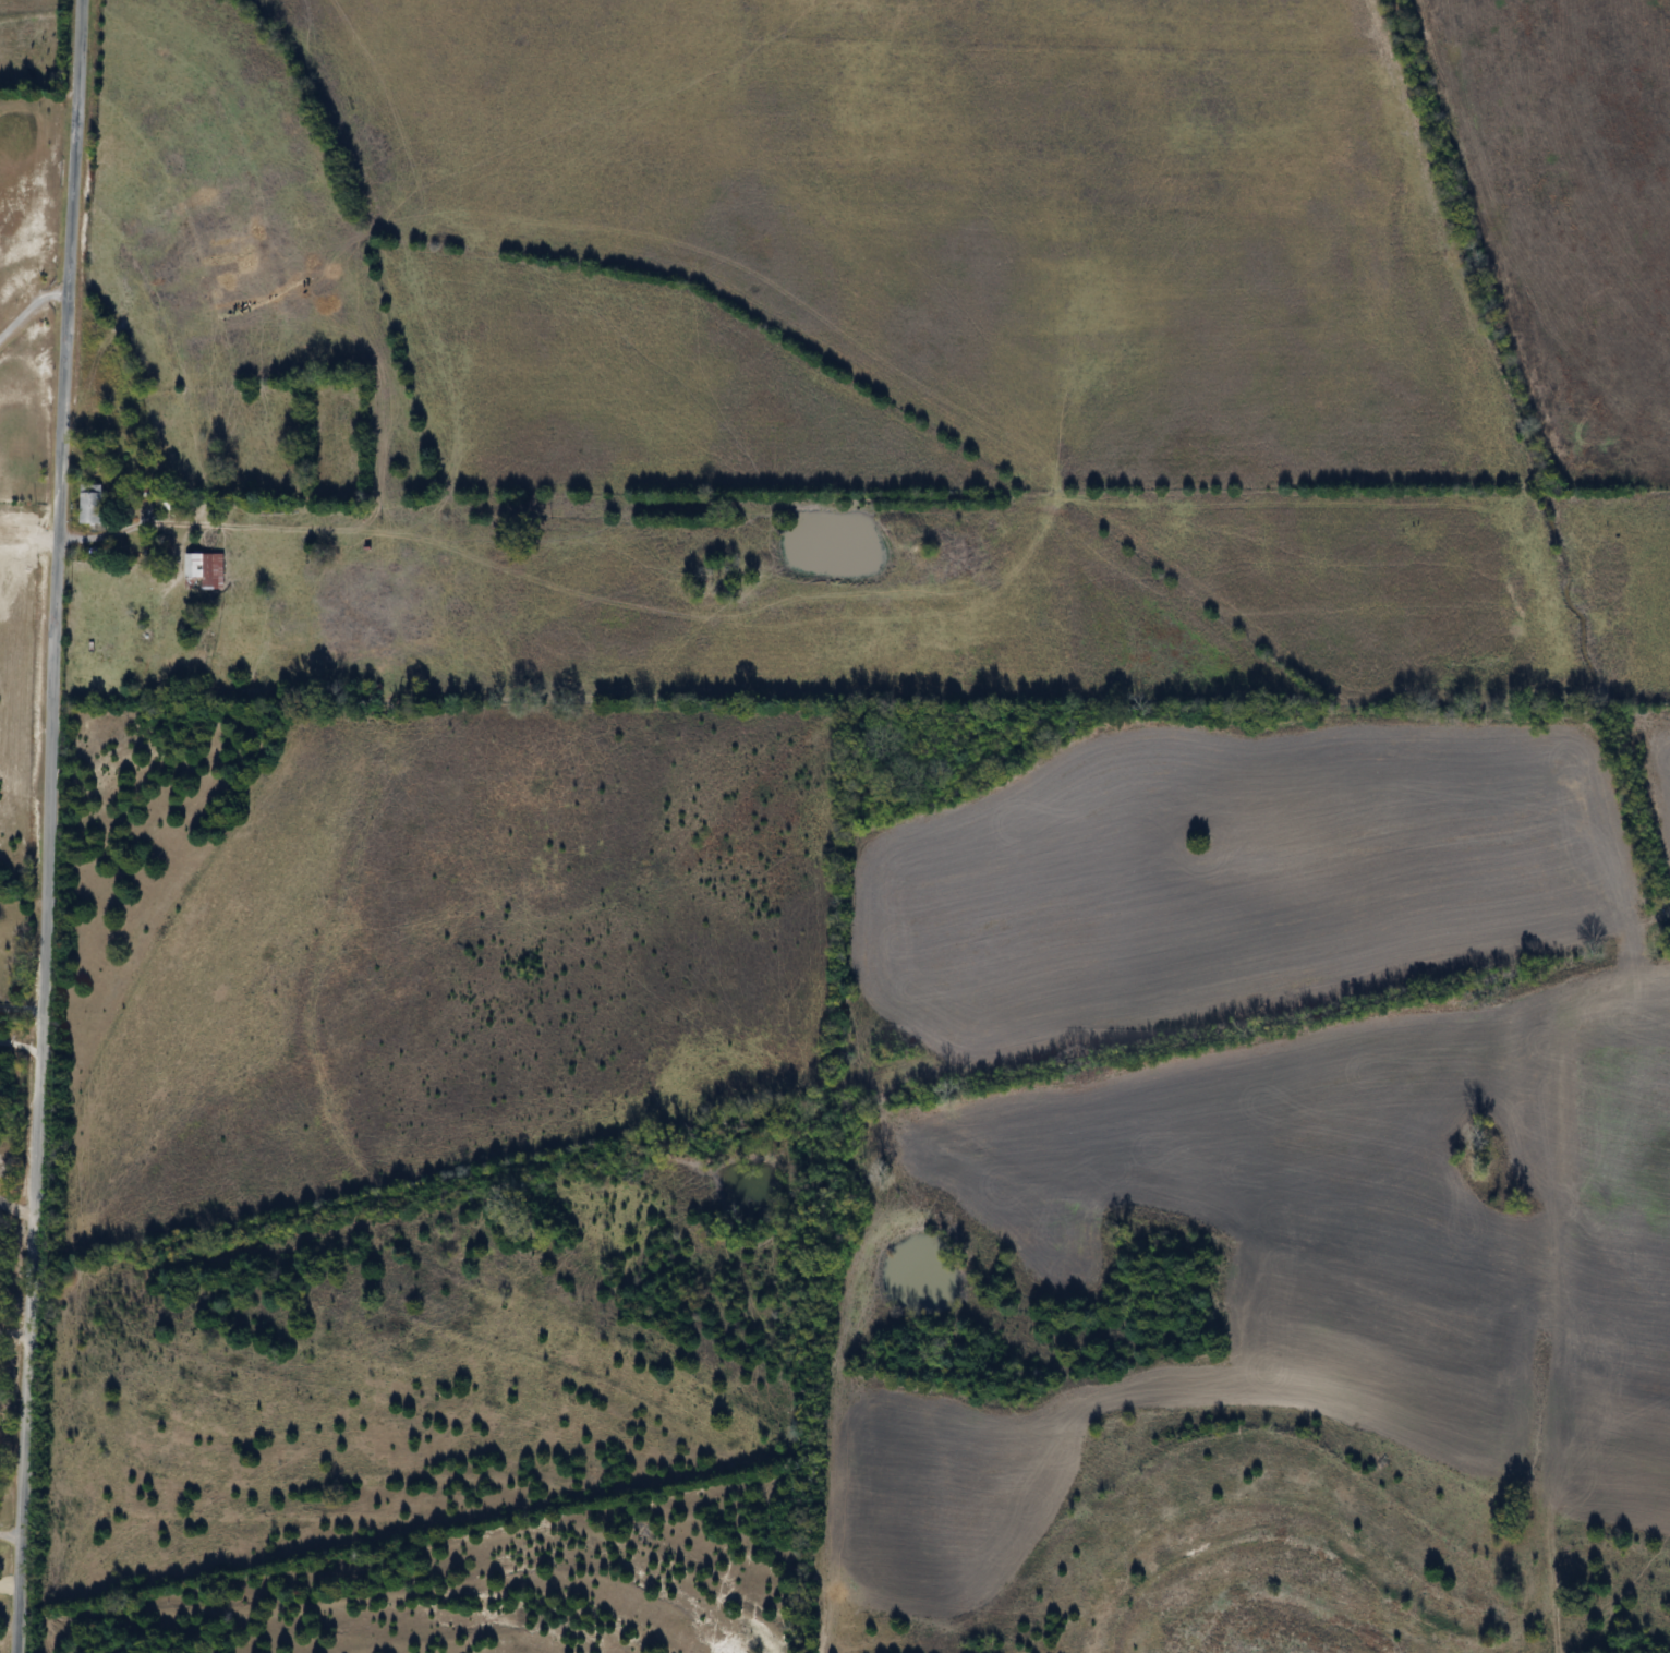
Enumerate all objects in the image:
road: (29, 310)
building: (92, 503)
road: (128, 527)
building: (207, 567)
road: (47, 826)
road: (20, 1008)
road: (20, 1040)
road: (16, 1190)
road: (13, 1331)
road: (10, 1536)
road: (9, 1579)

